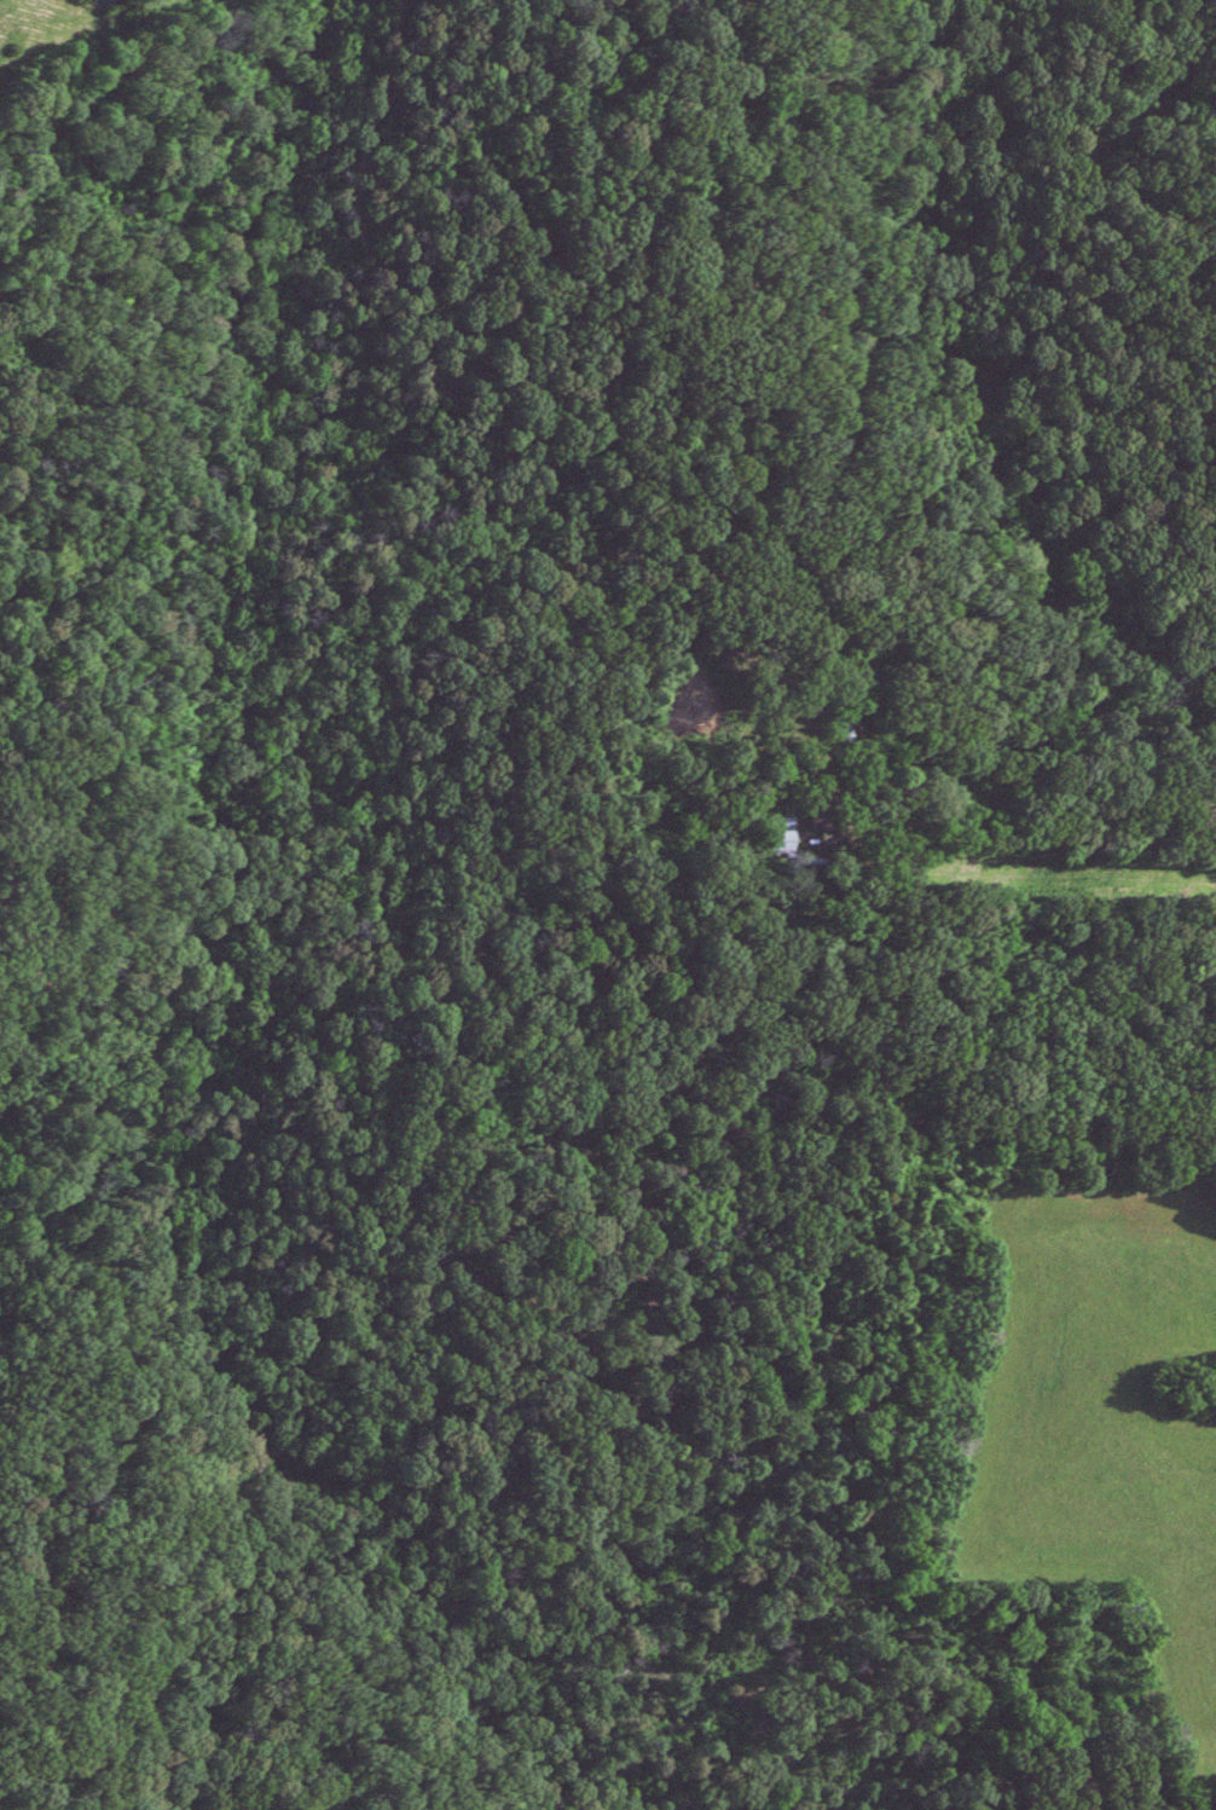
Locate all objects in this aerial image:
building: (775, 839)

